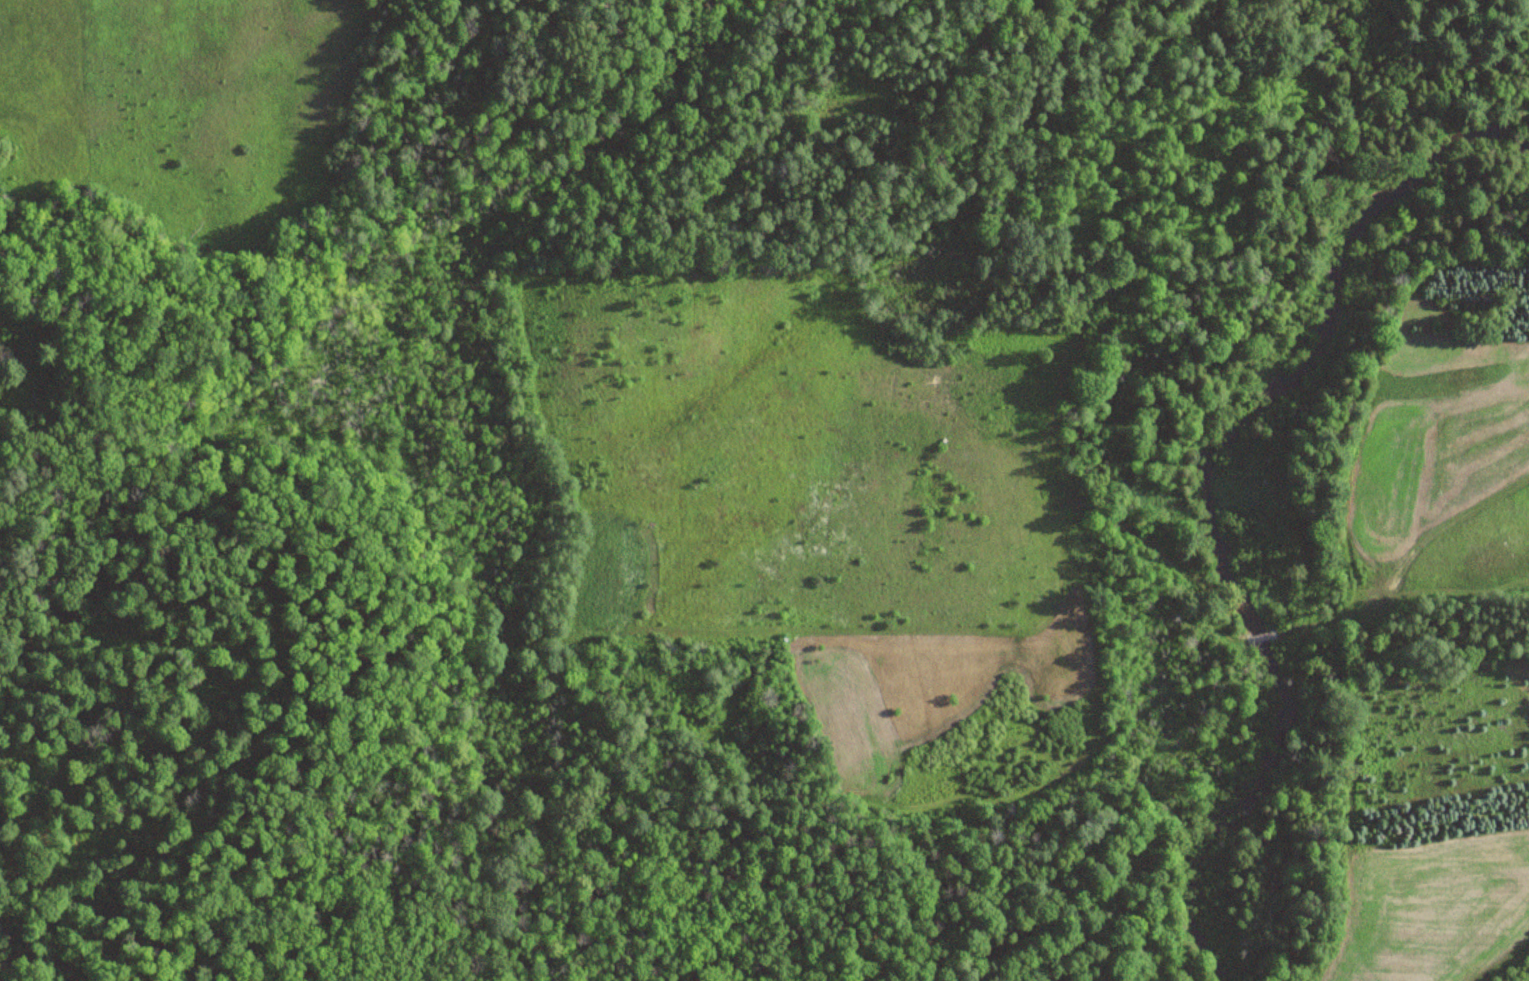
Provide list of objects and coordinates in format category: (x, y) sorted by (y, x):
river: (1207, 493)

